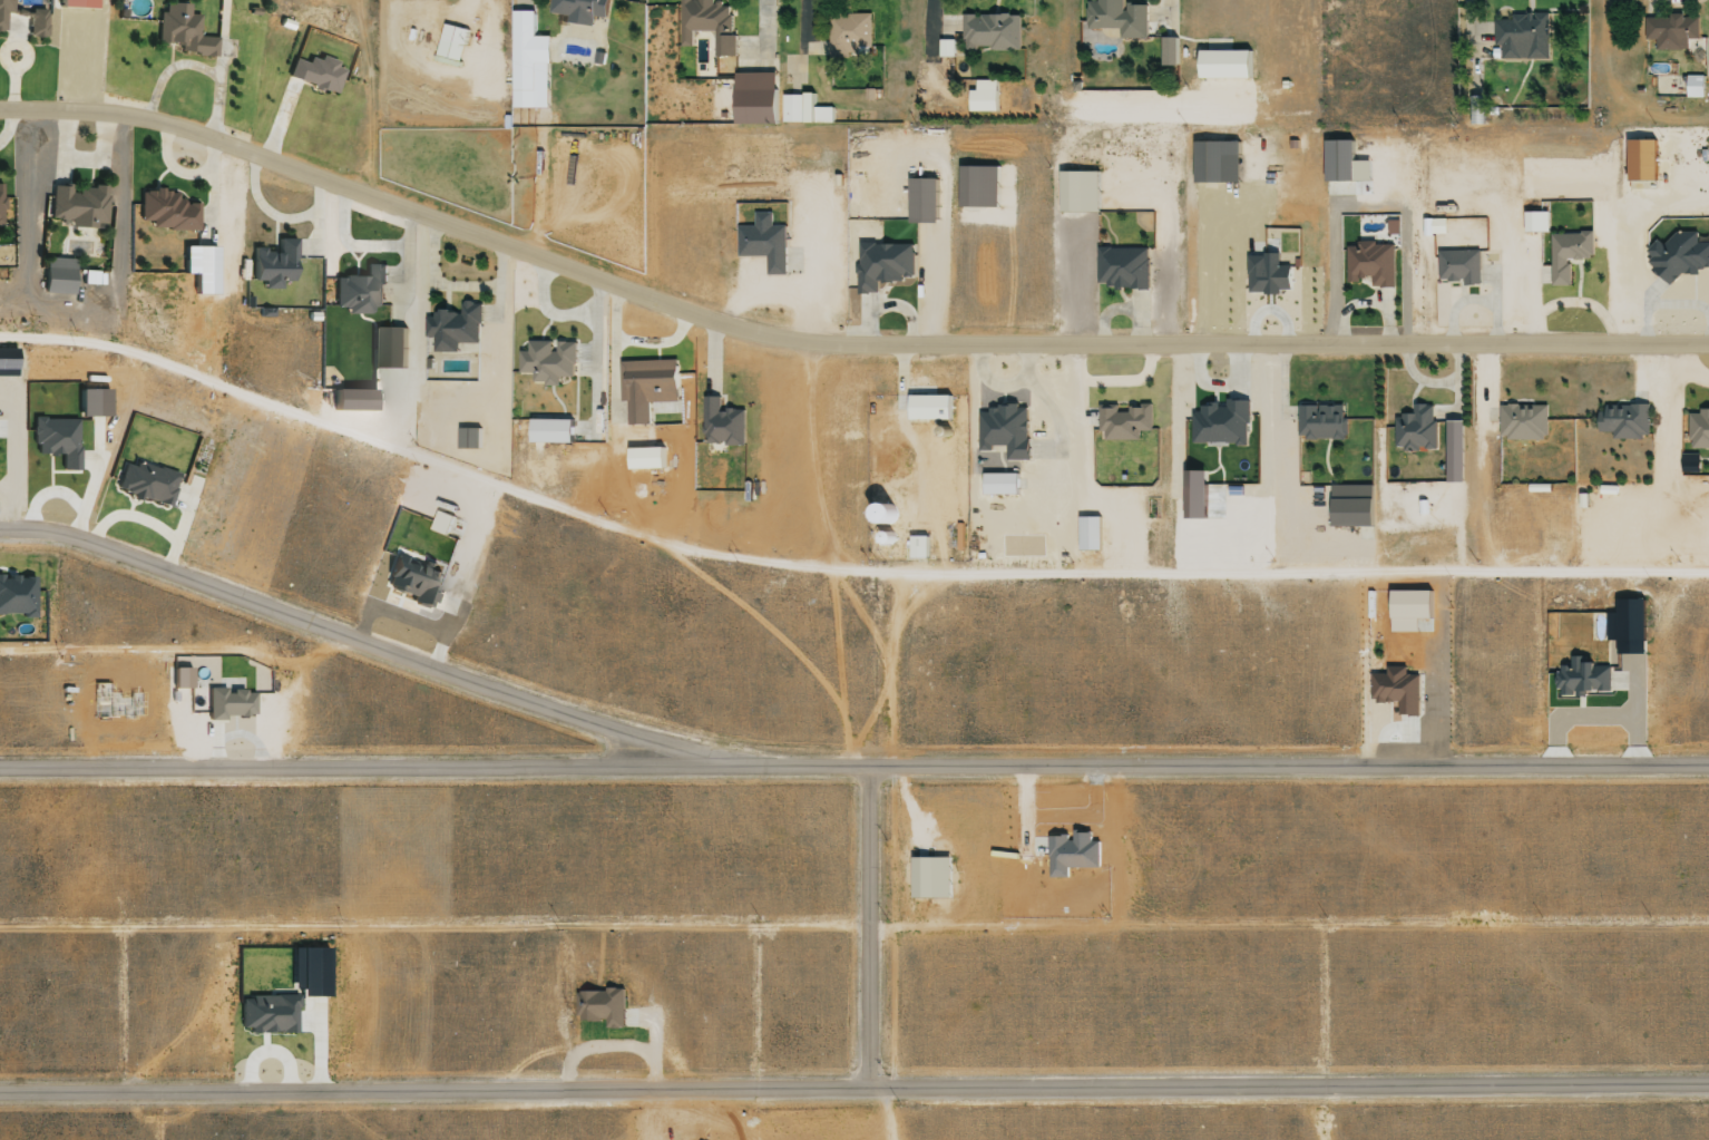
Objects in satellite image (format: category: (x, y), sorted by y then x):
road: (1112, 0)
building: (75, 4)
road: (1677, 4)
road: (523, 7)
road: (993, 8)
road: (463, 9)
building: (3, 10)
building: (18, 10)
building: (580, 10)
road: (1652, 10)
road: (442, 14)
road: (1522, 17)
building: (1120, 19)
building: (35, 21)
building: (706, 26)
building: (180, 33)
building: (1672, 33)
building: (989, 36)
building: (848, 38)
building: (1526, 38)
road: (1158, 41)
road: (937, 42)
road: (1137, 42)
building: (451, 45)
road: (1098, 45)
road: (1135, 45)
road: (1207, 46)
building: (945, 50)
building: (524, 52)
road: (1158, 53)
building: (1169, 53)
road: (166, 55)
road: (1443, 56)
road: (816, 57)
road: (801, 59)
road: (486, 62)
road: (412, 65)
building: (1223, 67)
road: (183, 72)
road: (750, 75)
building: (314, 76)
road: (1479, 81)
building: (1693, 90)
road: (1404, 95)
road: (364, 96)
building: (759, 99)
building: (984, 99)
road: (929, 100)
road: (118, 104)
building: (794, 111)
building: (1476, 111)
road: (57, 114)
road: (277, 118)
building: (821, 118)
road: (1283, 118)
road: (12, 124)
road: (106, 144)
road: (1242, 145)
road: (1256, 146)
road: (1160, 152)
building: (1708, 157)
building: (1642, 162)
building: (1337, 163)
building: (1214, 165)
road: (869, 168)
road: (155, 179)
road: (87, 182)
road: (1247, 184)
road: (1266, 185)
road: (814, 186)
road: (1236, 186)
building: (978, 188)
road: (1292, 189)
road: (1515, 192)
road: (177, 194)
building: (1075, 194)
road: (1139, 197)
road: (1231, 197)
building: (921, 203)
building: (0, 204)
building: (76, 208)
parking lot: (990, 208)
building: (166, 213)
road: (216, 215)
road: (719, 217)
road: (983, 217)
road: (1231, 222)
building: (1534, 224)
road: (0, 225)
building: (1434, 226)
building: (1424, 228)
road: (319, 231)
road: (271, 240)
building: (763, 244)
road: (944, 257)
building: (1566, 257)
road: (355, 259)
road: (1008, 259)
building: (1676, 259)
building: (4, 260)
road: (1578, 261)
road: (352, 263)
building: (272, 264)
road: (798, 264)
building: (1370, 265)
road: (832, 266)
building: (881, 266)
road: (1328, 269)
road: (1412, 269)
road: (1424, 269)
building: (1458, 269)
building: (195, 270)
road: (1507, 270)
road: (1608, 270)
building: (1123, 271)
road: (1198, 272)
road: (1044, 274)
building: (1267, 274)
building: (1545, 274)
road: (1529, 276)
road: (1356, 279)
building: (56, 281)
road: (891, 283)
road: (1575, 286)
road: (766, 288)
building: (359, 291)
road: (412, 303)
road: (1487, 304)
road: (1569, 305)
road: (87, 309)
road: (1453, 309)
road: (1690, 310)
road: (1644, 312)
road: (502, 321)
road: (363, 322)
road: (720, 327)
building: (455, 329)
road: (1391, 329)
road: (380, 331)
road: (540, 332)
road: (556, 345)
road: (834, 345)
road: (1468, 347)
road: (628, 350)
building: (389, 351)
road: (1285, 357)
road: (655, 358)
building: (548, 363)
road: (1203, 363)
road: (1416, 377)
road: (1126, 382)
road: (544, 389)
building: (646, 389)
road: (1409, 400)
building: (91, 401)
road: (999, 401)
building: (927, 407)
road: (1513, 408)
road: (1708, 408)
road: (572, 422)
building: (1220, 422)
building: (1621, 422)
road: (602, 423)
building: (1126, 423)
building: (1320, 423)
building: (1522, 423)
building: (724, 427)
road: (1080, 429)
road: (1650, 430)
building: (1698, 430)
building: (1416, 431)
building: (553, 433)
building: (1005, 433)
building: (57, 439)
building: (468, 440)
road: (1218, 441)
road: (909, 444)
road: (1065, 448)
road: (1005, 449)
road: (1706, 449)
road: (613, 456)
road: (810, 458)
building: (650, 460)
road: (1015, 461)
road: (1377, 461)
road: (1178, 462)
road: (1669, 462)
road: (999, 465)
road: (1214, 465)
road: (1322, 465)
road: (1702, 466)
building: (1690, 468)
road: (1708, 470)
building: (144, 481)
building: (1002, 486)
road: (1051, 487)
road: (1416, 493)
building: (1607, 493)
road: (1662, 493)
building: (1193, 495)
road: (1305, 498)
road: (1281, 500)
parking lot: (1290, 500)
road: (1455, 501)
road: (1326, 505)
building: (1350, 508)
building: (881, 514)
road: (902, 523)
building: (448, 525)
road: (1204, 525)
road: (1113, 529)
road: (1409, 532)
road: (1055, 534)
road: (1618, 536)
building: (1090, 537)
building: (887, 543)
storage tank: (887, 543)
road: (1640, 543)
building: (919, 550)
road: (1365, 554)
road: (836, 574)
building: (412, 582)
building: (16, 594)
building: (1637, 626)
road: (769, 635)
road: (377, 642)
road: (831, 643)
road: (198, 650)
road: (885, 671)
road: (1436, 671)
building: (1585, 684)
building: (1396, 692)
building: (227, 702)
road: (1091, 758)
road: (432, 762)
road: (1287, 763)
road: (1051, 834)
building: (1071, 854)
road: (1086, 876)
building: (929, 878)
road: (432, 922)
road: (866, 922)
road: (1287, 922)
building: (600, 1006)
building: (265, 1013)
road: (853, 1081)
road: (891, 1105)

